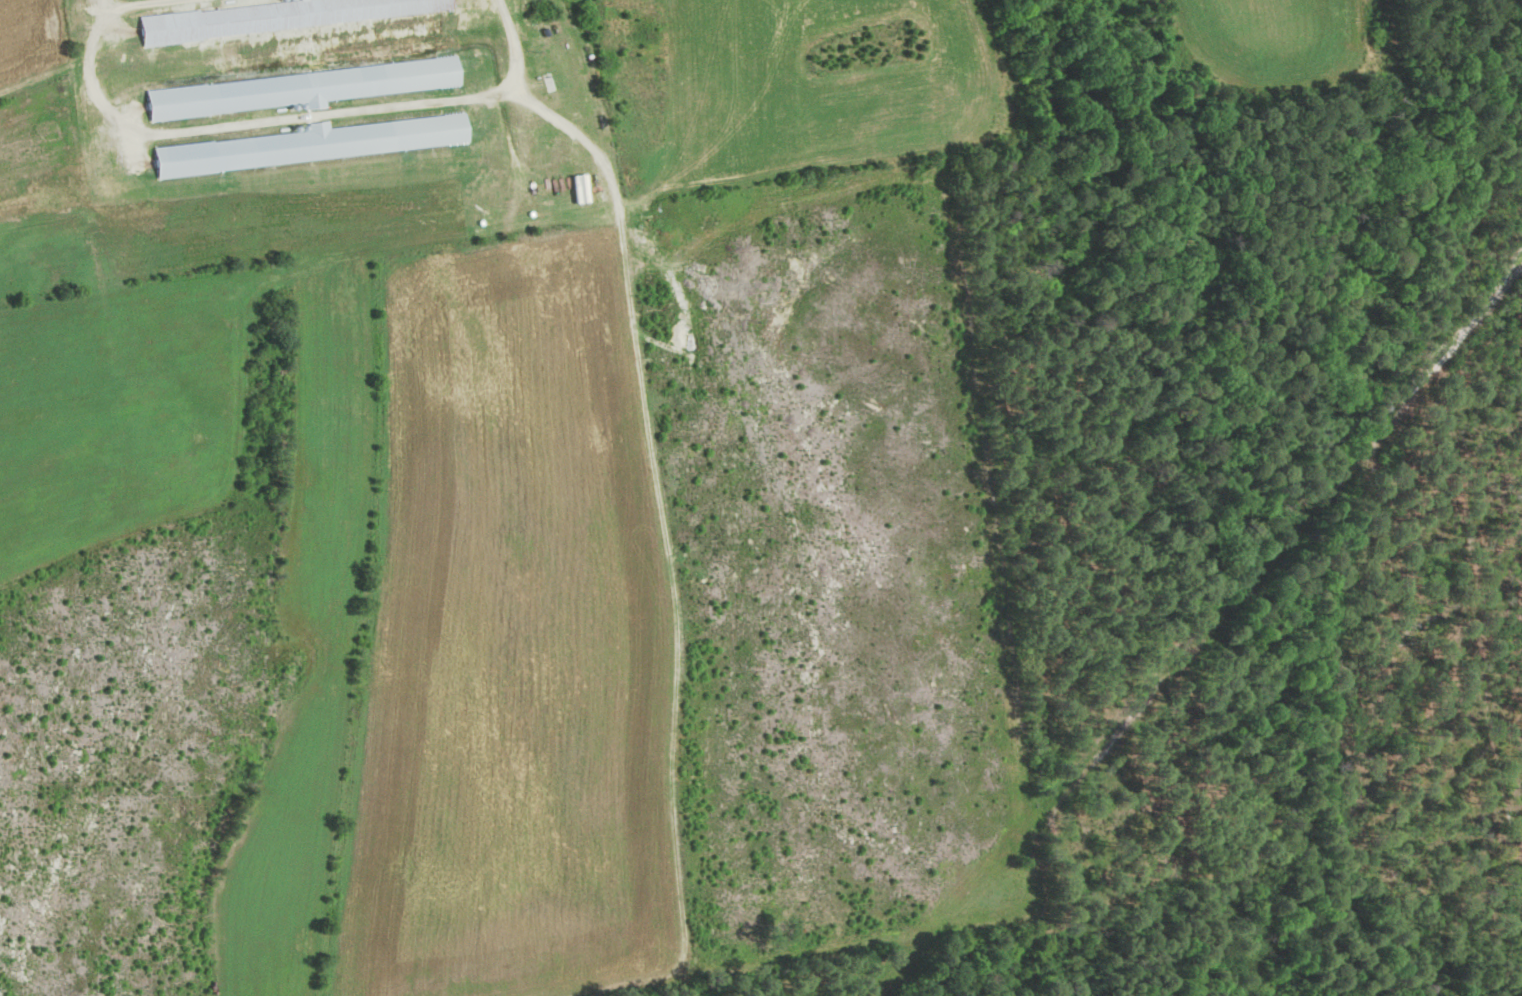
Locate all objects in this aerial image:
building: (296, 87)
building: (312, 143)

